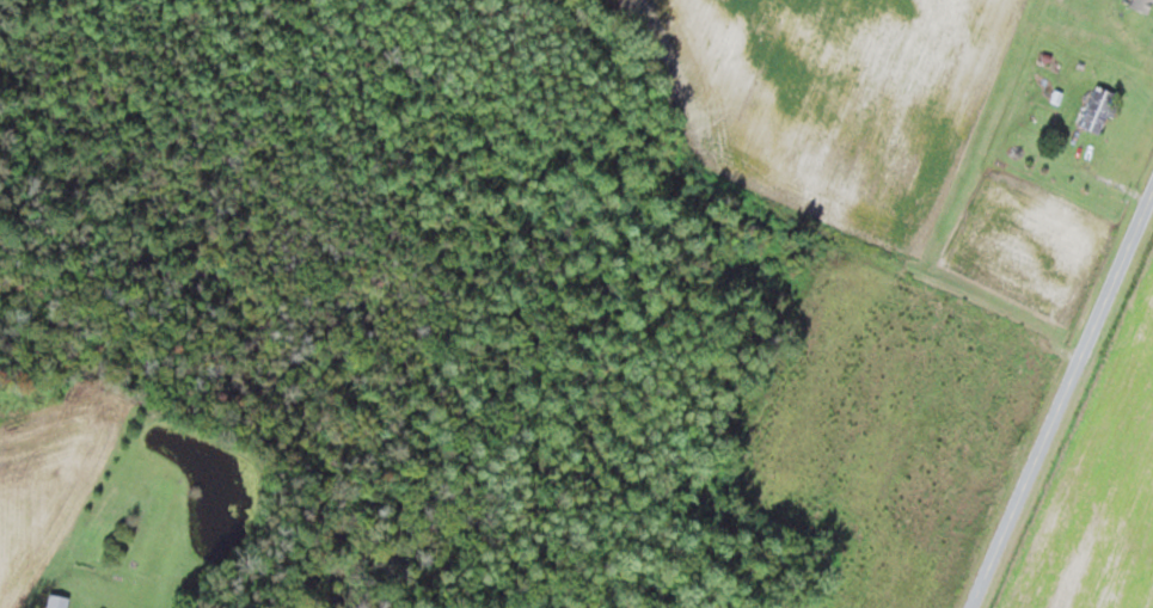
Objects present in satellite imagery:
building: (1142, 5)
building: (1099, 108)
road: (1063, 394)

